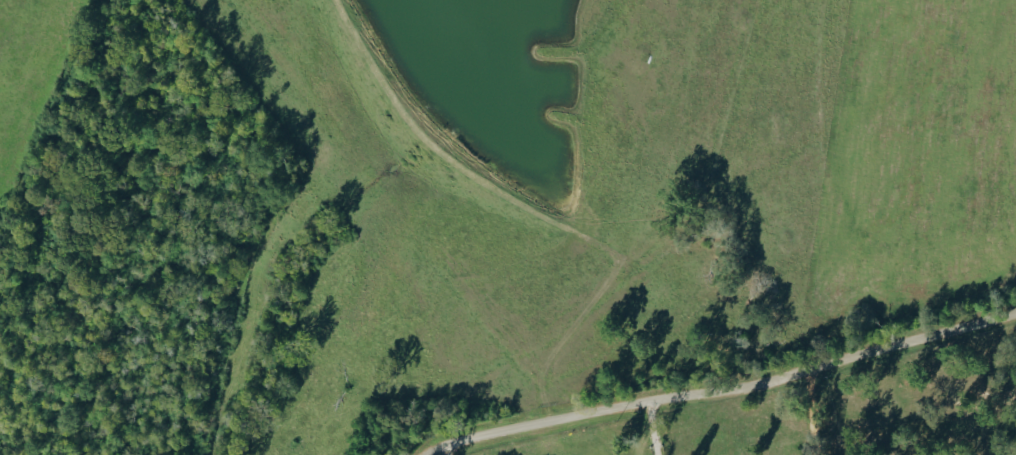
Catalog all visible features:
road: (723, 389)
road: (810, 411)
road: (651, 428)
road: (443, 450)

